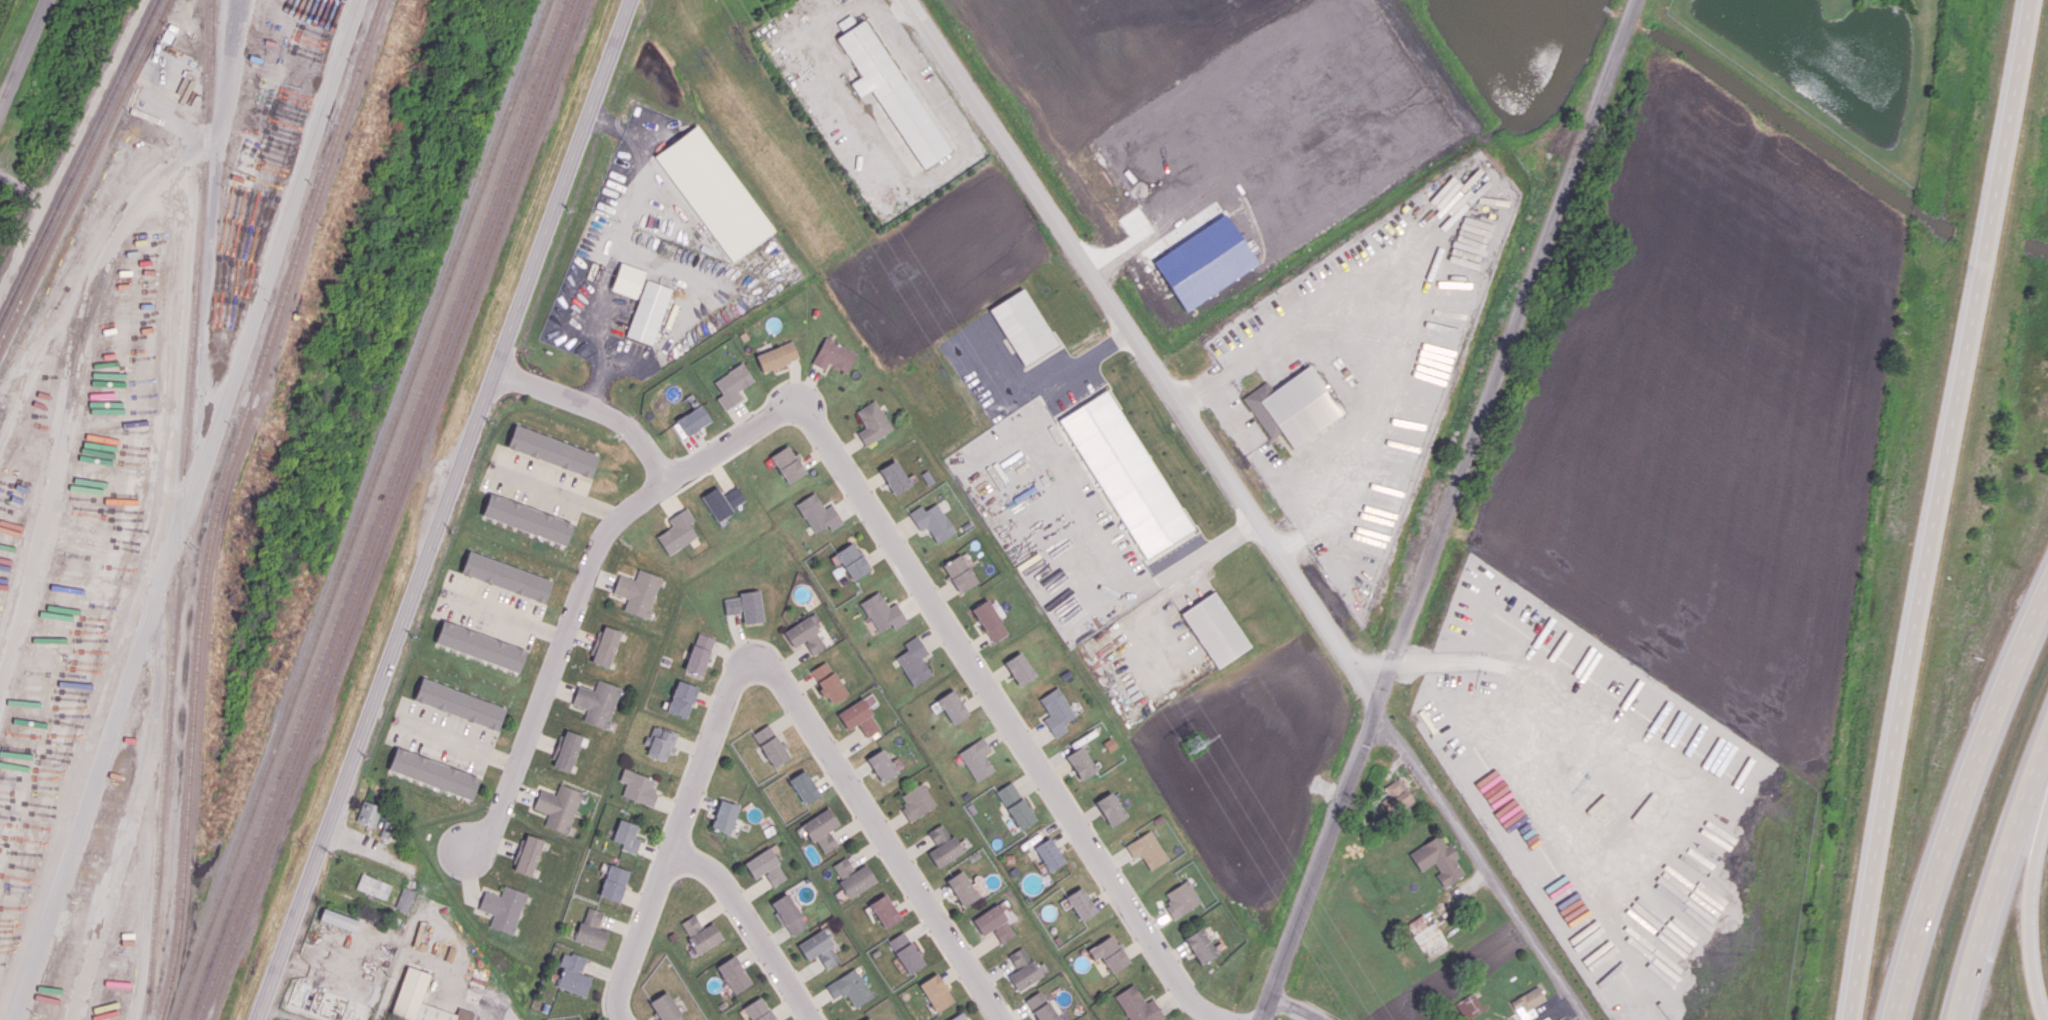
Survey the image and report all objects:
railway: (212, 27)
road: (24, 57)
building: (892, 92)
crop: (1226, 122)
railway: (78, 160)
railway: (84, 172)
building: (713, 193)
building: (627, 280)
road: (1412, 308)
road: (82, 311)
building: (646, 311)
building: (1023, 326)
road: (1137, 350)
building: (833, 355)
building: (776, 356)
building: (732, 385)
road: (595, 406)
building: (1293, 406)
crop: (1714, 416)
building: (693, 420)
building: (872, 422)
building: (553, 451)
building: (787, 464)
building: (1125, 474)
building: (894, 477)
road: (561, 495)
railway: (219, 499)
building: (722, 501)
railway: (375, 509)
railway: (394, 509)
railway: (181, 510)
railway: (361, 510)
railway: (386, 510)
road: (444, 510)
road: (1445, 510)
road: (1940, 510)
building: (818, 513)
road: (1073, 517)
building: (527, 519)
building: (932, 521)
building: (677, 532)
building: (852, 561)
building: (959, 573)
building: (507, 577)
road: (580, 589)
building: (637, 592)
building: (745, 606)
building: (882, 612)
road: (506, 616)
building: (989, 620)
building: (1215, 629)
building: (805, 635)
building: (604, 645)
building: (481, 646)
building: (699, 653)
building: (914, 661)
building: (1019, 668)
building: (828, 682)
building: (681, 699)
building: (597, 702)
building: (459, 703)
building: (952, 706)
building: (1056, 711)
road: (1004, 716)
building: (859, 717)
building: (660, 742)
road: (464, 745)
building: (770, 745)
power tower: (1193, 745)
building: (566, 750)
building: (976, 759)
building: (1081, 762)
building: (882, 765)
building: (433, 773)
road: (91, 785)
building: (804, 786)
building: (638, 787)
building: (1397, 796)
road: (1957, 800)
building: (916, 801)
building: (1015, 805)
building: (558, 807)
building: (1110, 808)
building: (369, 814)
building: (724, 817)
building: (822, 829)
road: (878, 829)
building: (390, 830)
road: (676, 835)
building: (626, 836)
building: (942, 845)
road: (366, 848)
building: (1147, 849)
building: (1049, 853)
building: (527, 854)
building: (1438, 859)
road: (1482, 865)
building: (766, 866)
building: (843, 867)
road: (2001, 878)
building: (857, 881)
building: (613, 883)
building: (373, 886)
building: (962, 888)
building: (1181, 898)
building: (404, 899)
building: (1080, 903)
building: (502, 907)
building: (884, 910)
road: (2027, 910)
building: (788, 914)
building: (338, 919)
building: (994, 923)
building: (691, 924)
road: (750, 925)
building: (591, 929)
building: (1426, 935)
building: (705, 938)
building: (1201, 945)
building: (819, 948)
building: (906, 952)
building: (1109, 953)
road: (342, 958)
crop: (1371, 966)
building: (1023, 969)
building: (572, 973)
building: (733, 974)
road: (389, 982)
road: (446, 984)
building: (412, 987)
building: (850, 987)
building: (936, 992)
building: (1528, 1004)
building: (1137, 1005)
building: (1469, 1006)
building: (666, 1007)
building: (1041, 1007)
road: (1293, 1008)
building: (758, 1010)
road: (494, 1016)
building: (959, 1017)
building: (870, 1018)
building: (288, 1019)

